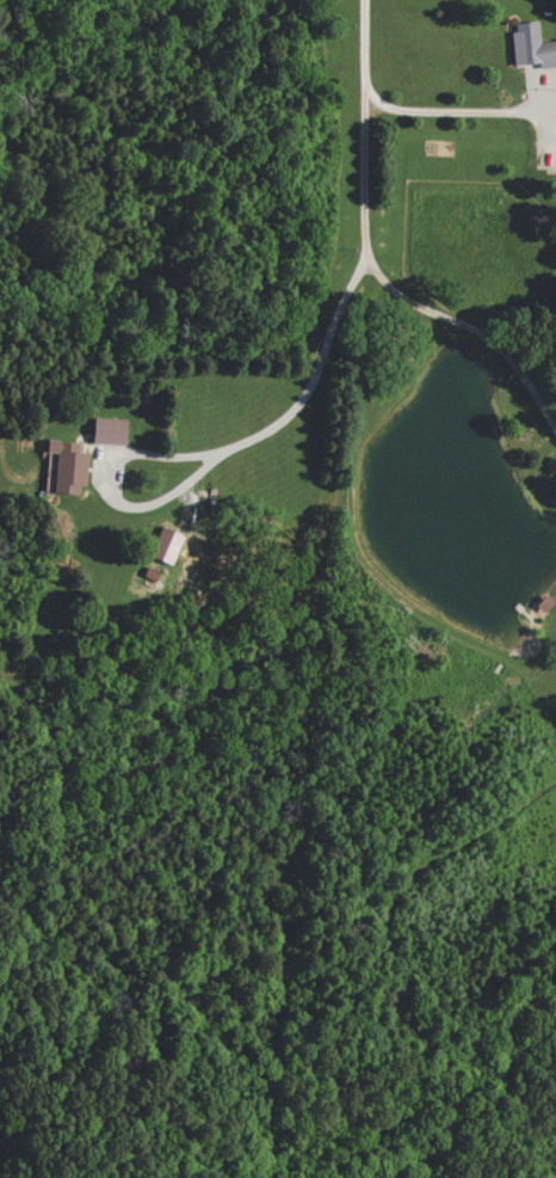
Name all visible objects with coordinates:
building: (530, 44)
road: (461, 111)
road: (372, 258)
building: (105, 430)
road: (216, 453)
building: (64, 466)
building: (163, 545)

